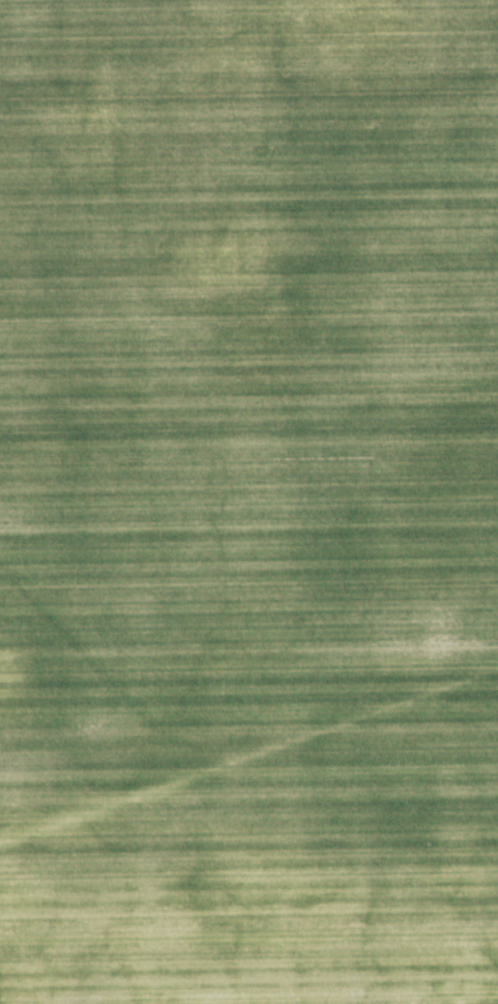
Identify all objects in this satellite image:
crop: (249, 502)

